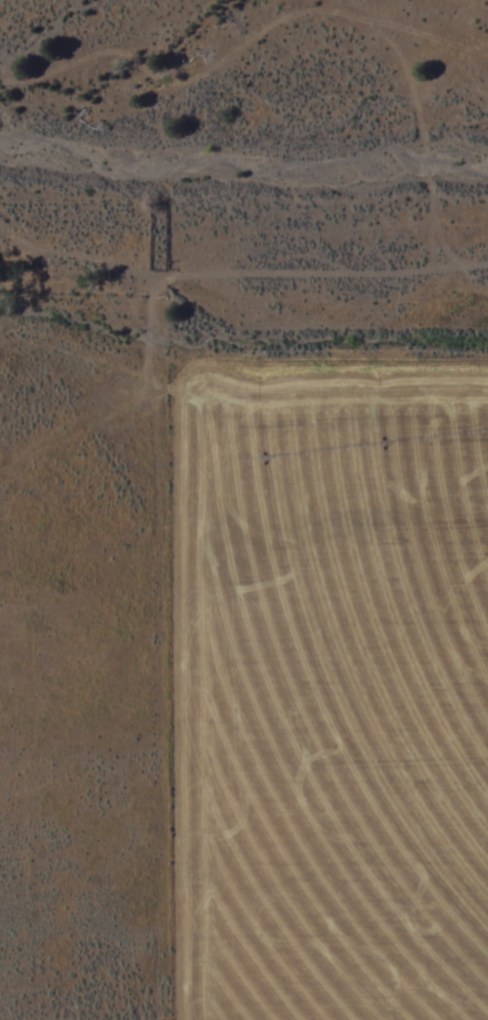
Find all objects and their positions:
road: (333, 337)

